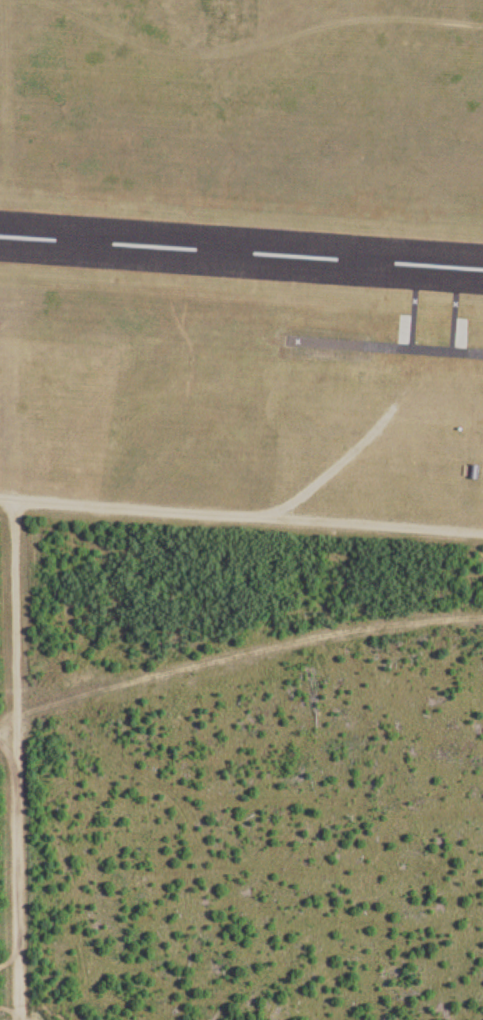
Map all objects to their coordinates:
airport runway: (241, 253)
road: (6, 257)
airport: (243, 265)
road: (6, 730)
road: (16, 875)

